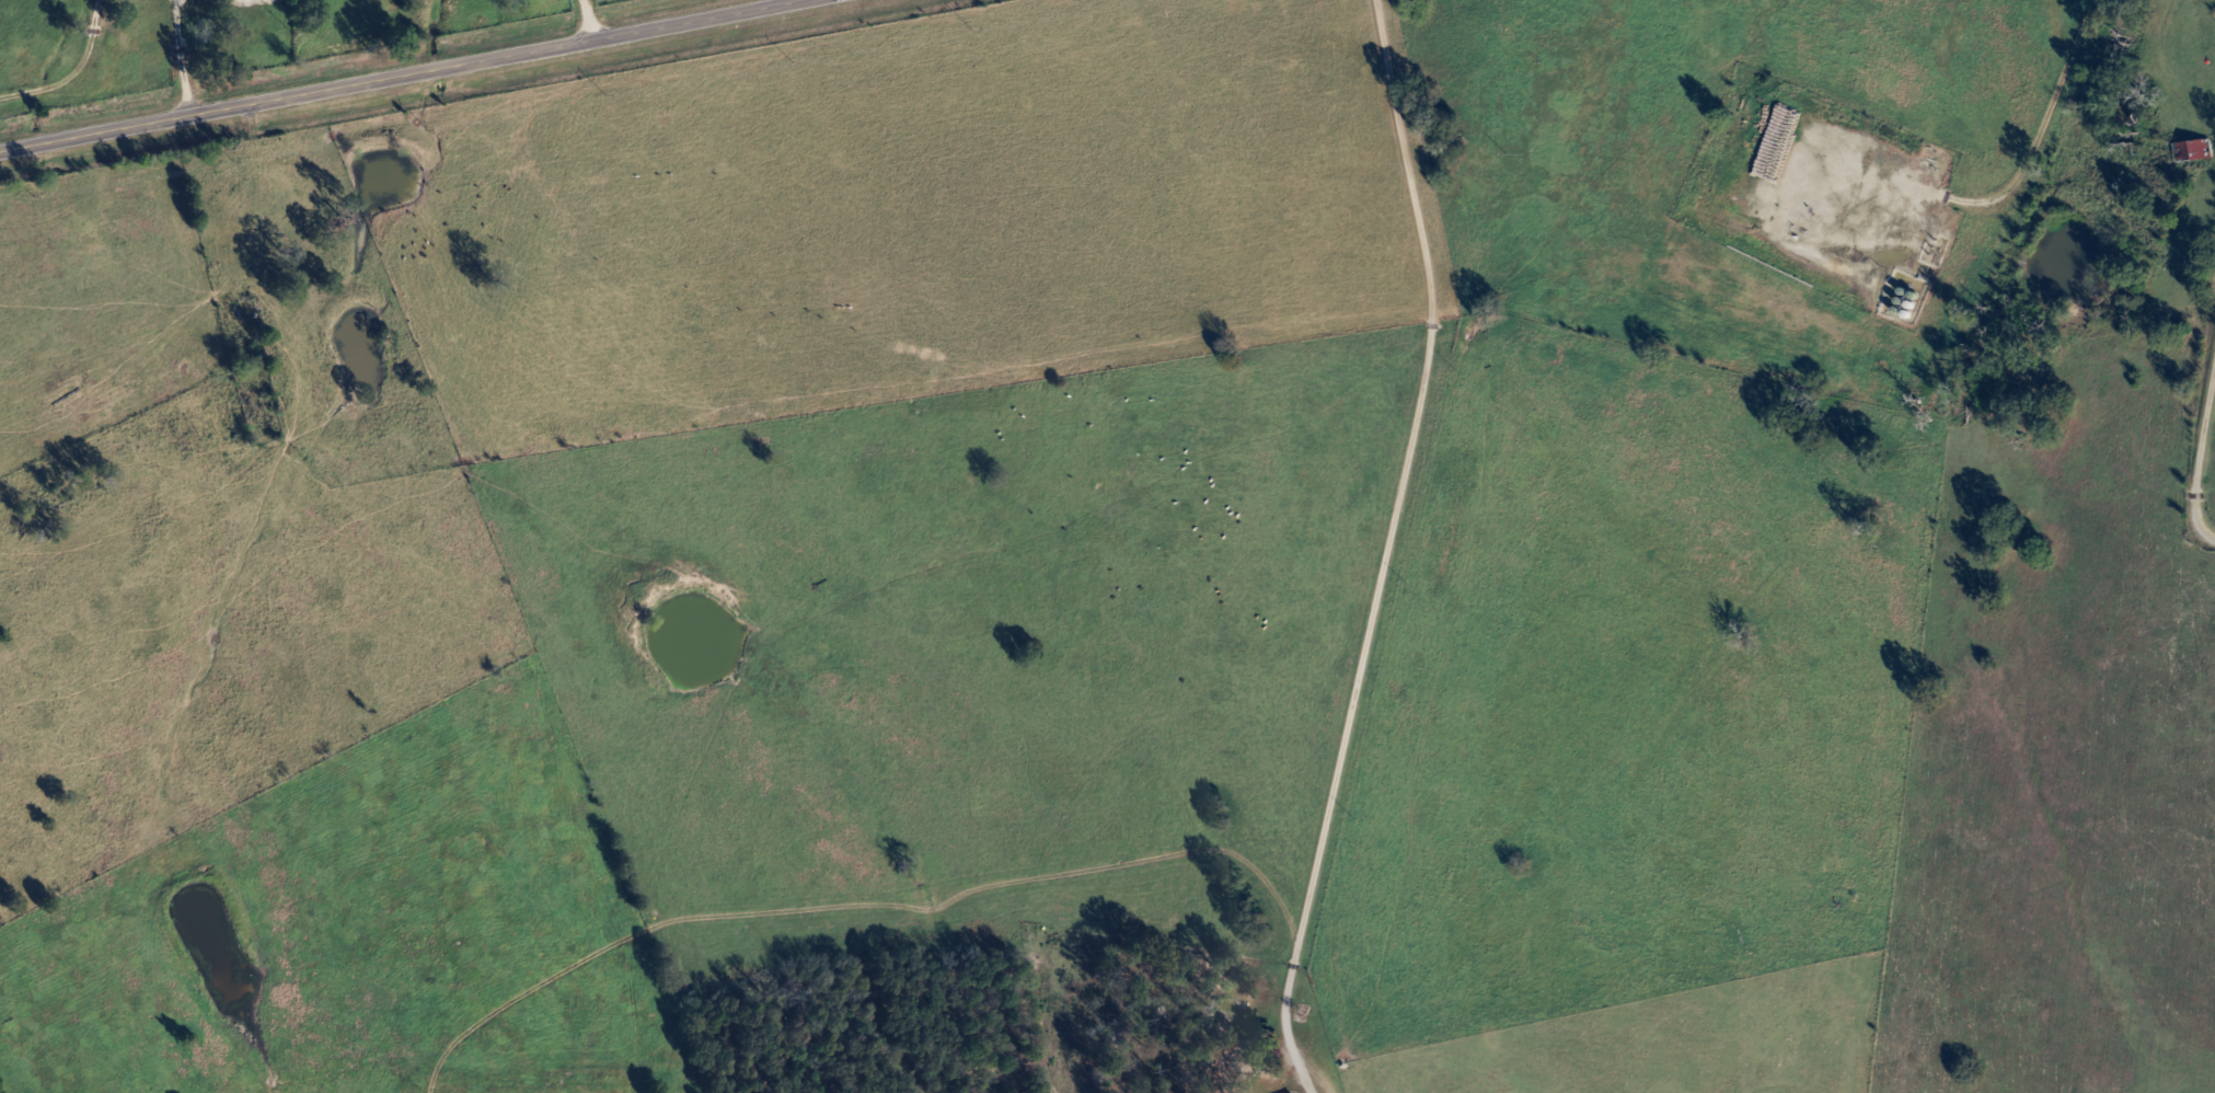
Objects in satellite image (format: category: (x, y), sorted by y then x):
road: (399, 74)
building: (2194, 152)

